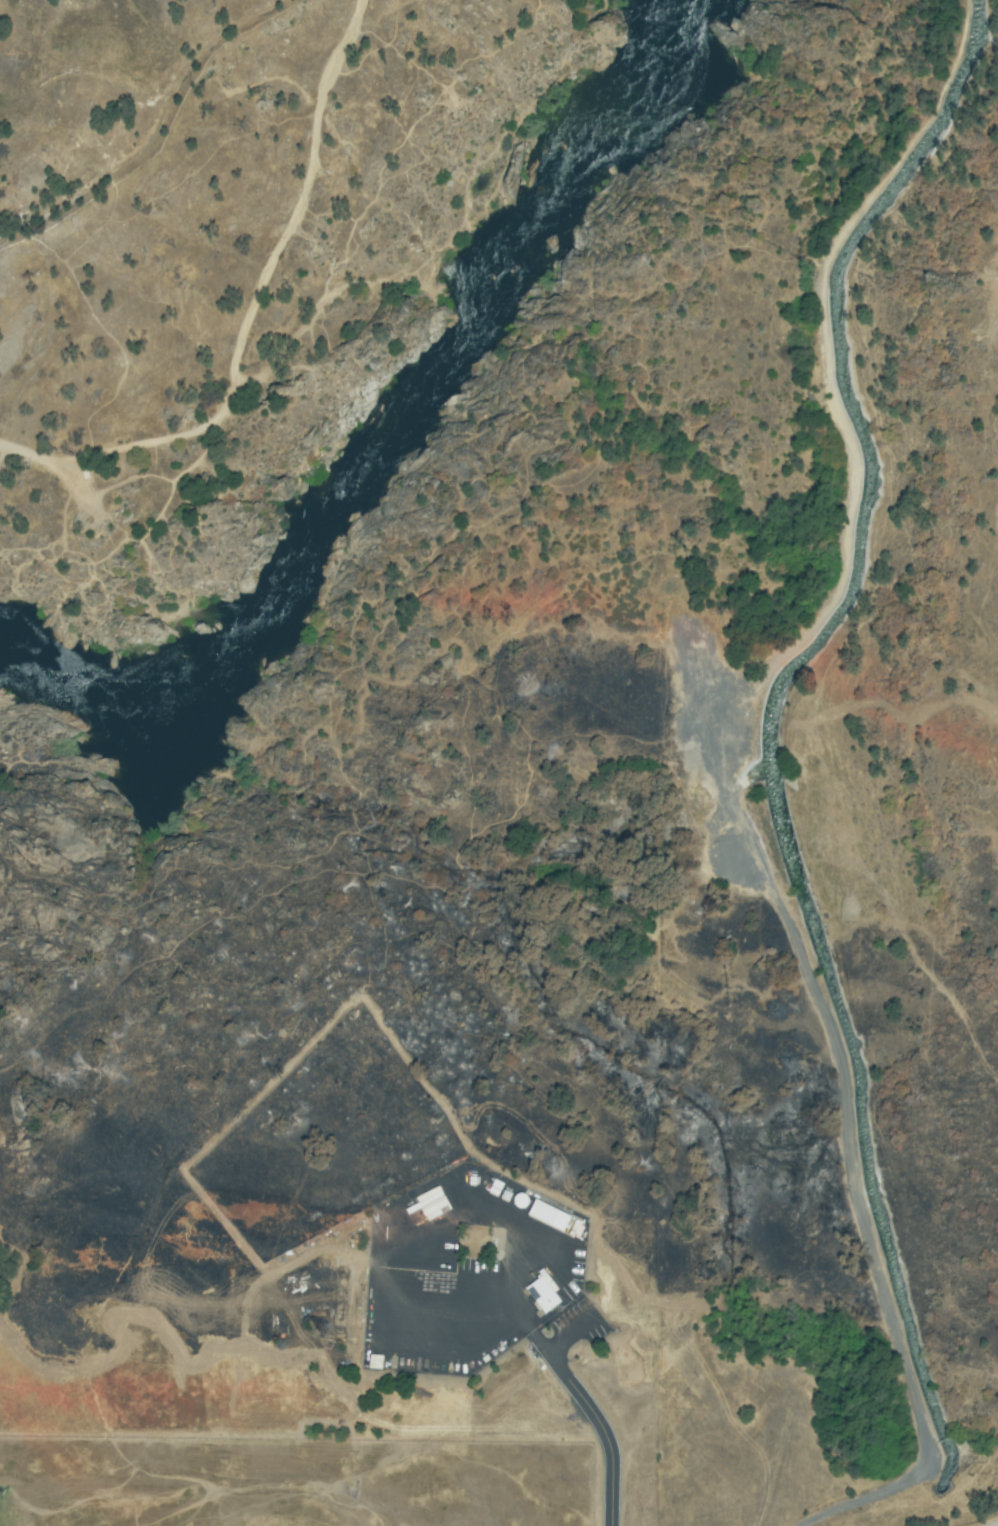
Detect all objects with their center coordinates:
river: (392, 459)
road: (734, 778)
building: (549, 1218)
building: (542, 1297)
road: (596, 1421)
road: (997, 1525)

